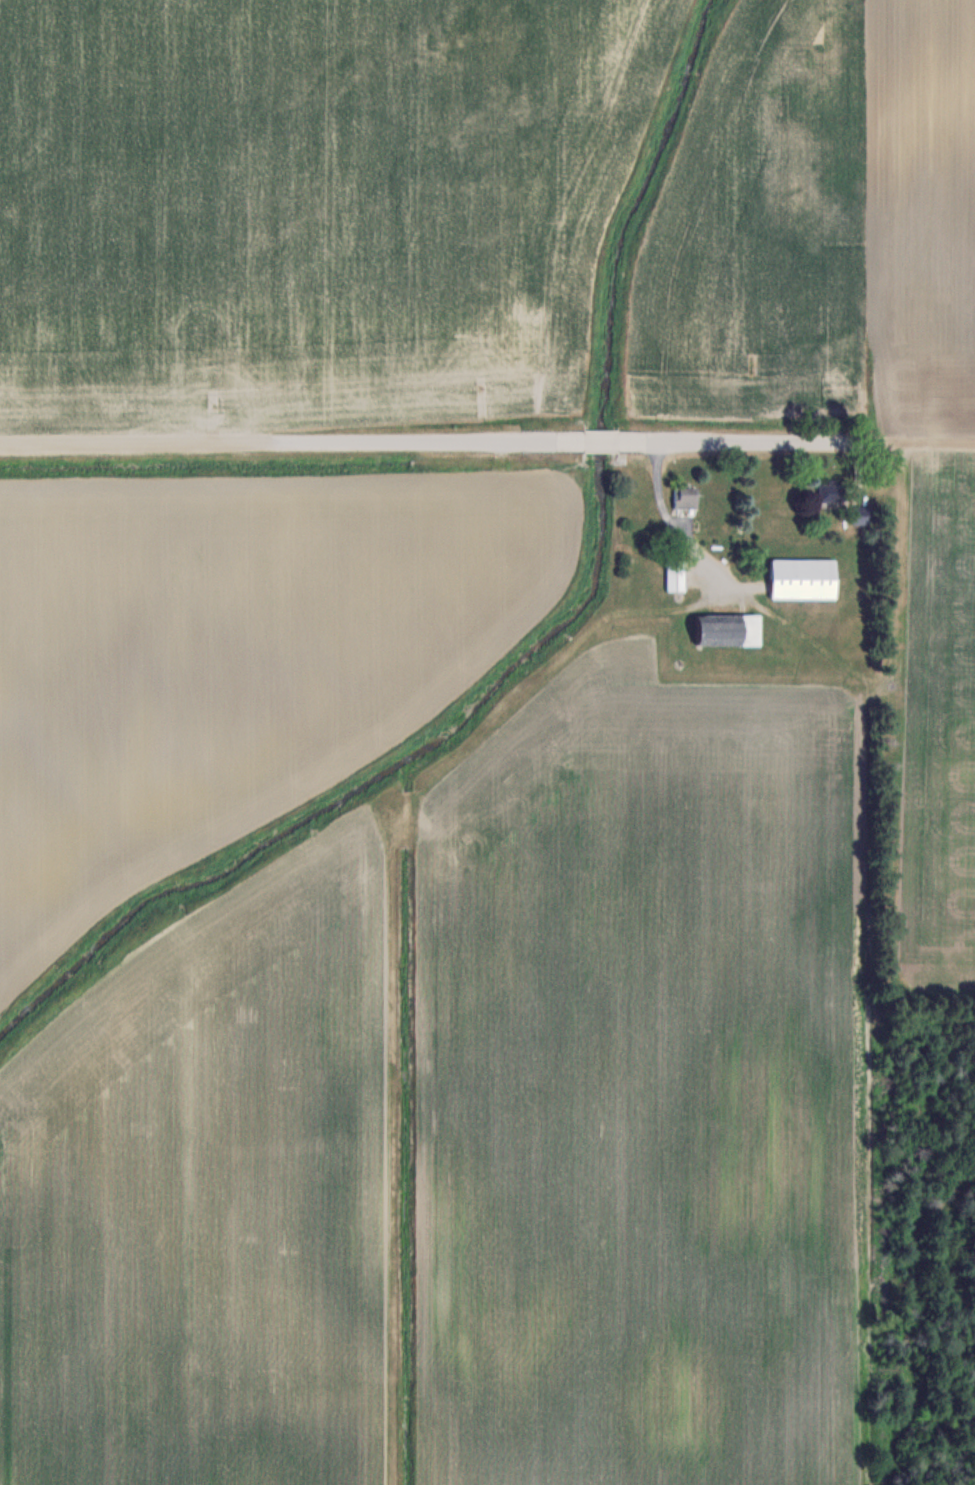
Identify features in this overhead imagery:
road: (487, 442)
building: (831, 492)
building: (685, 497)
building: (860, 514)
building: (675, 574)
building: (803, 579)
building: (728, 630)

